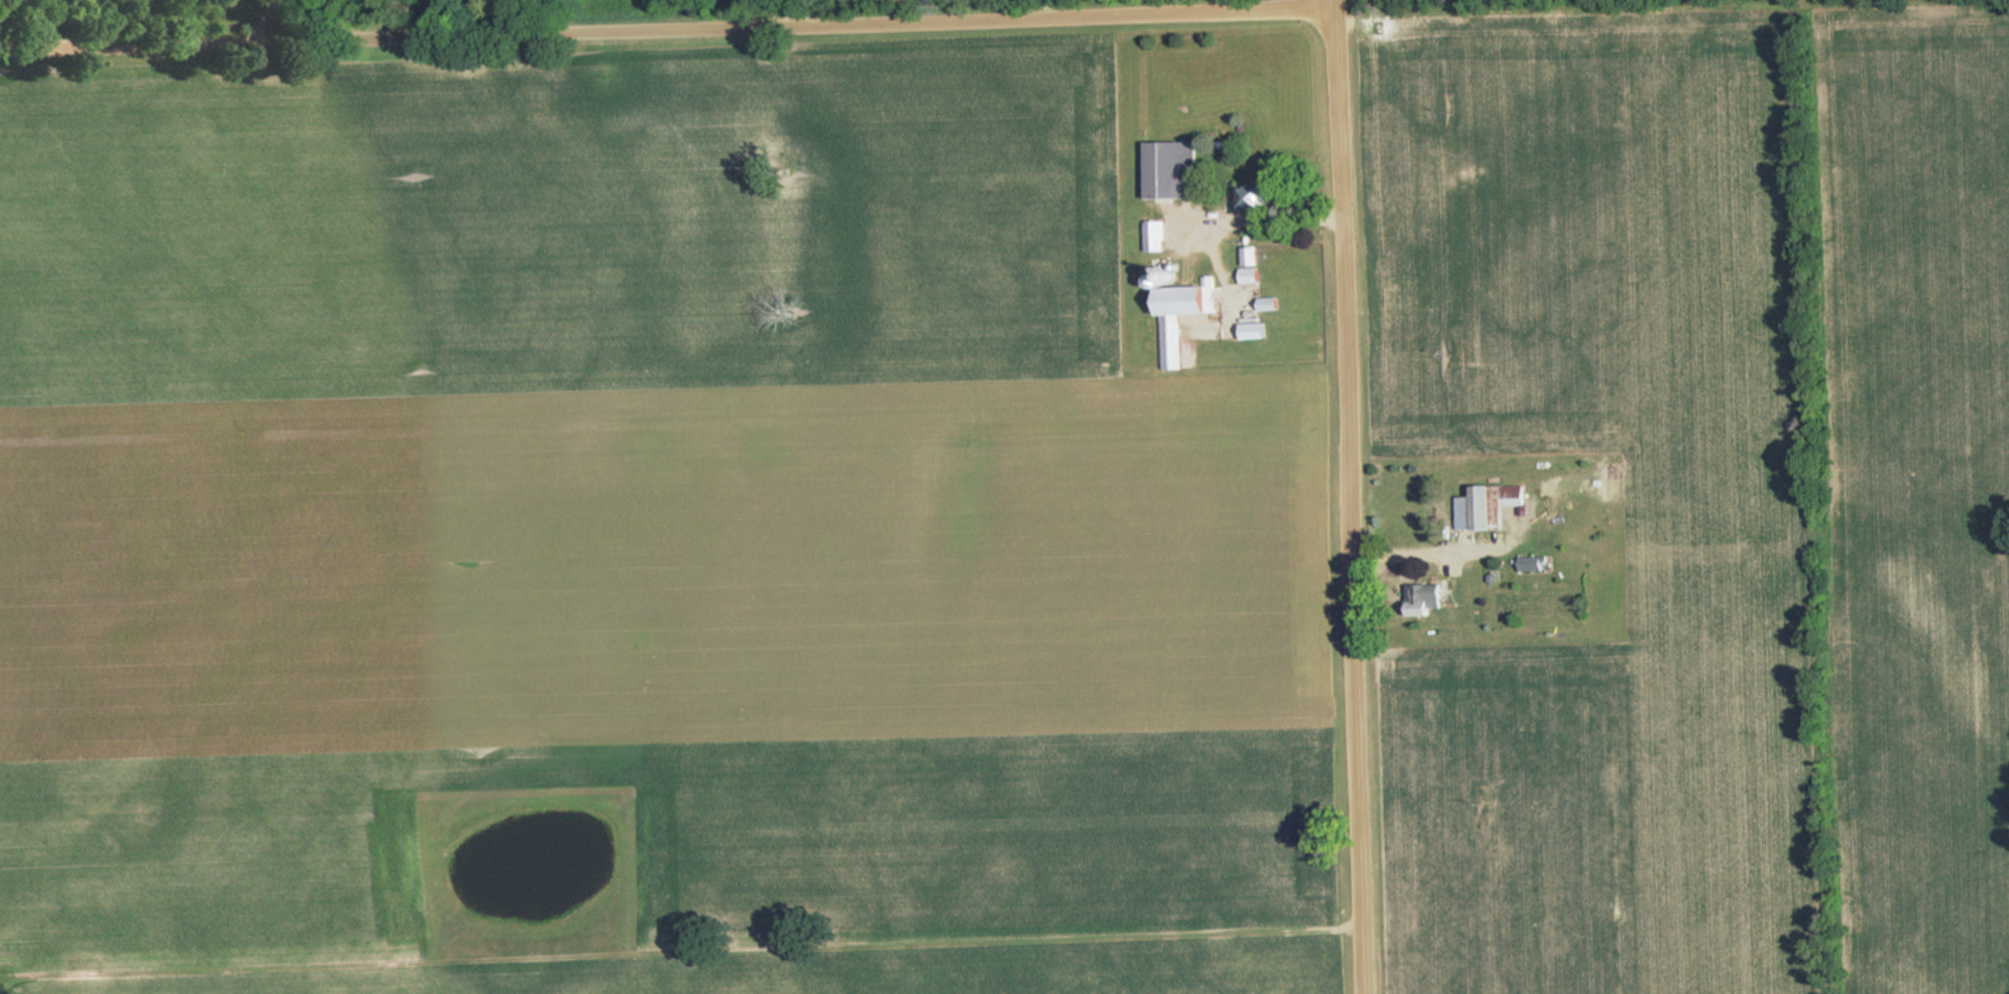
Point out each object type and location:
road: (667, 25)
building: (1173, 169)
building: (1252, 198)
building: (1251, 264)
building: (1173, 342)
road: (1348, 497)
building: (1486, 507)
building: (1531, 563)
building: (1428, 595)

